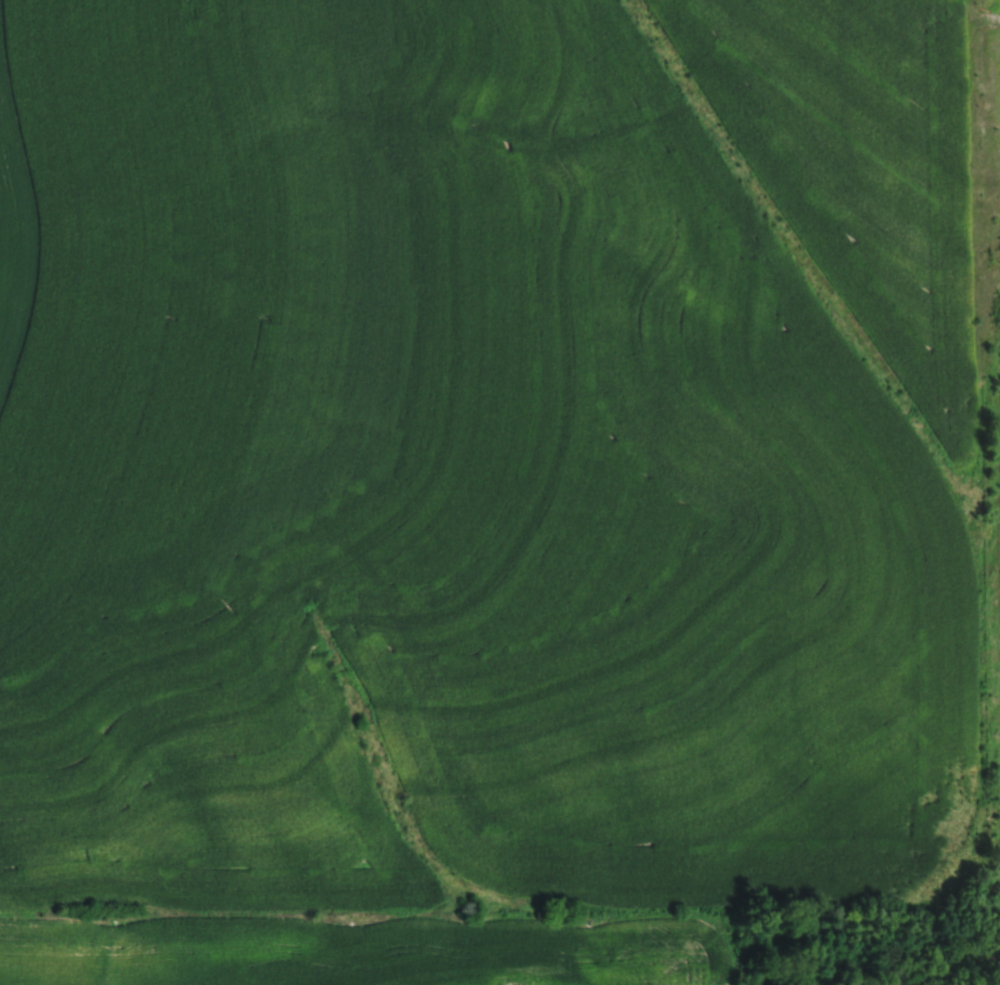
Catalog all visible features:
road: (990, 18)

